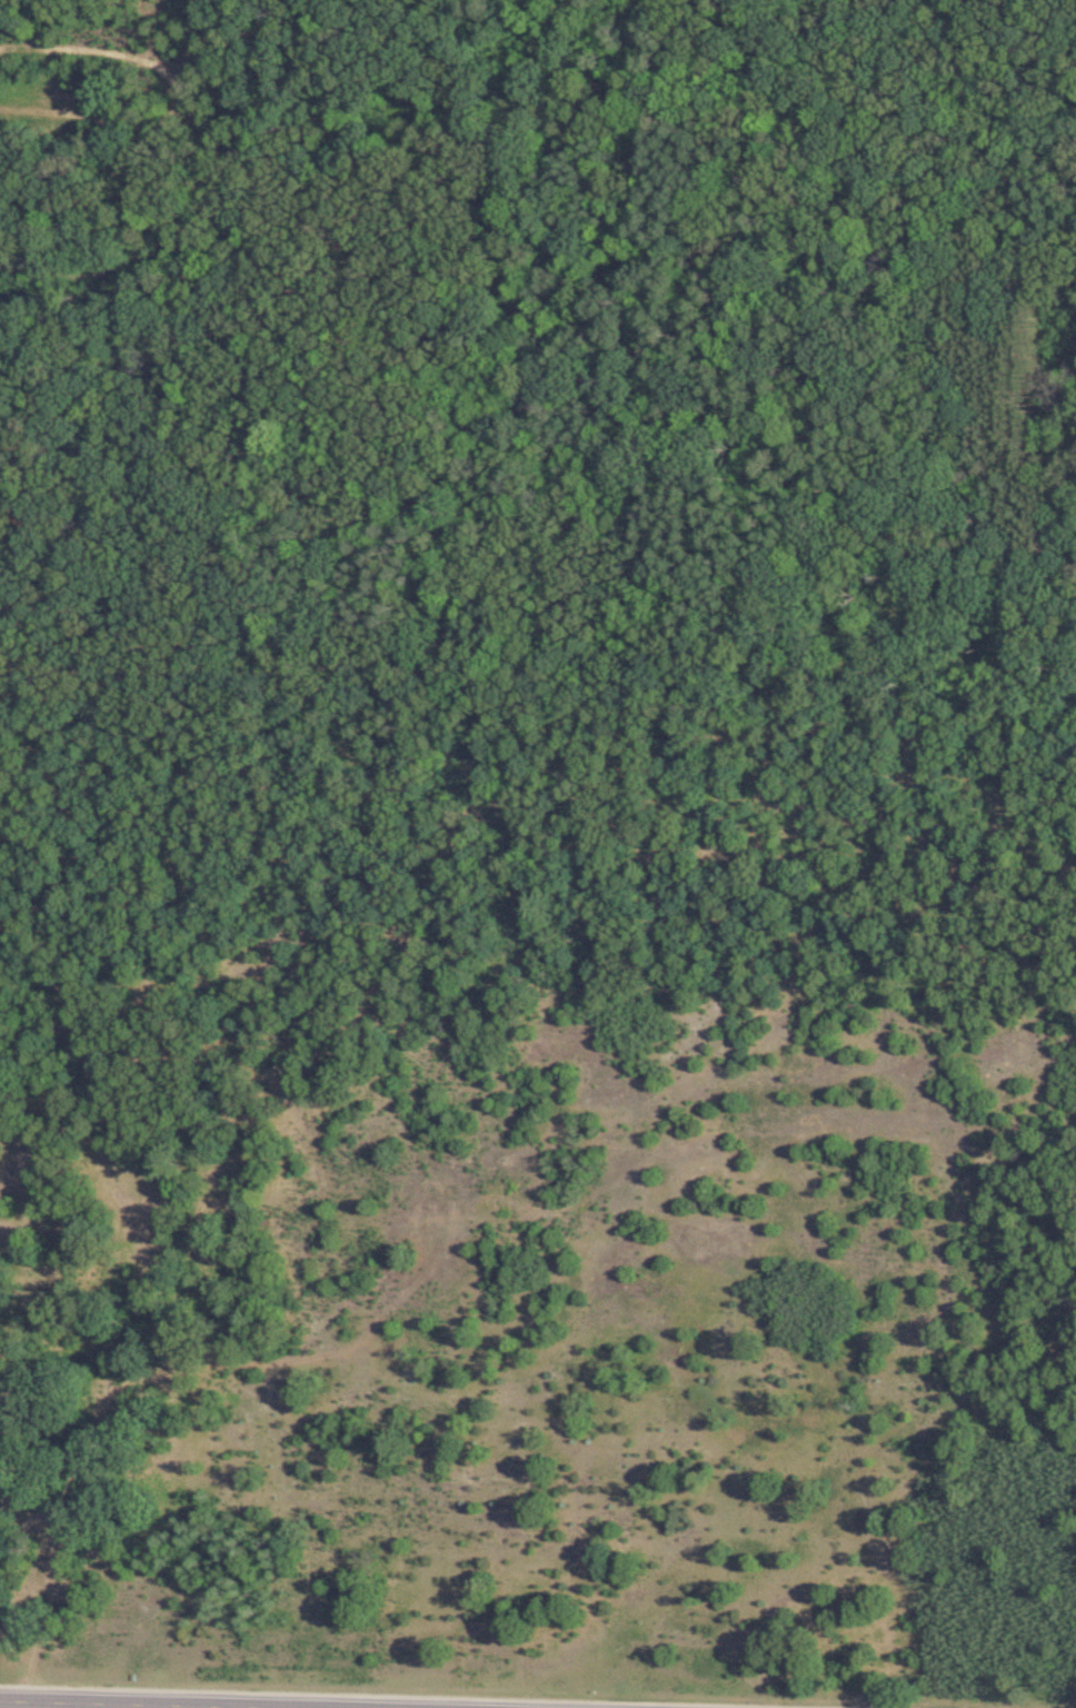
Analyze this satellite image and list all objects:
road: (119, 1705)

